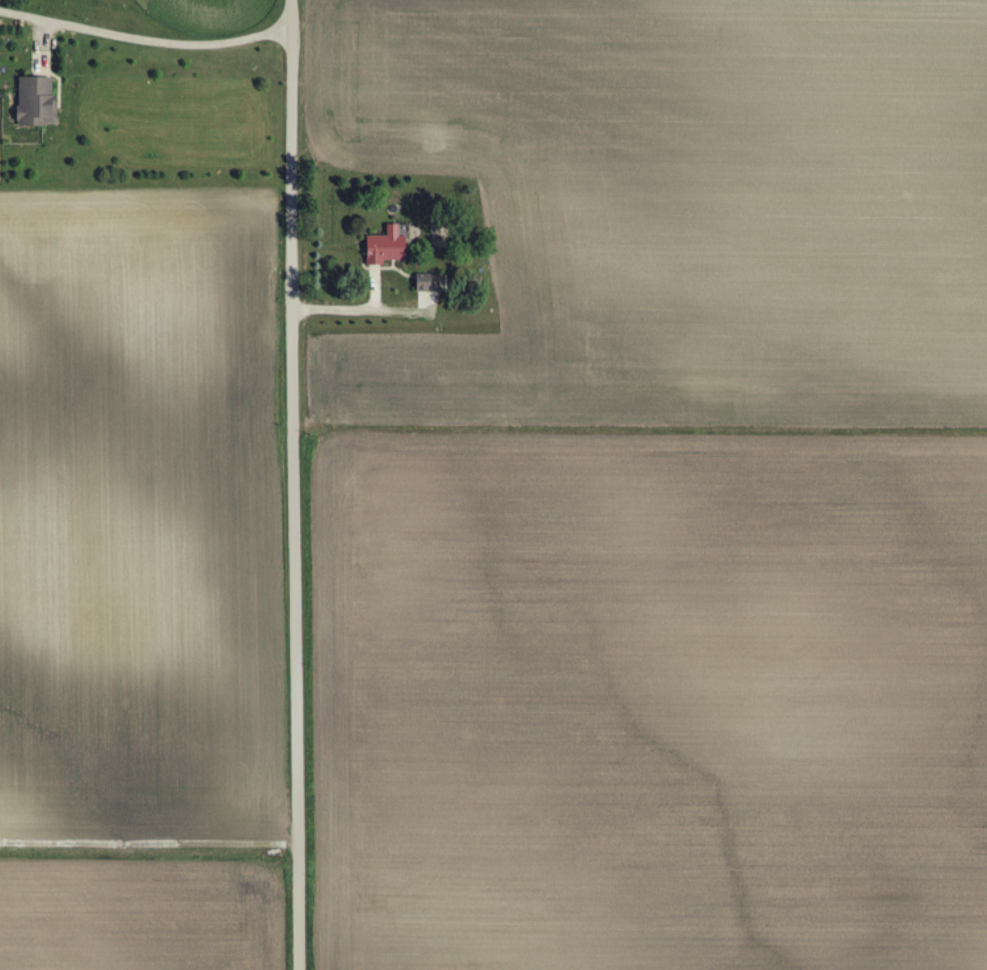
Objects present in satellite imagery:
road: (145, 36)
building: (35, 102)
building: (385, 247)
building: (426, 283)
road: (294, 484)

